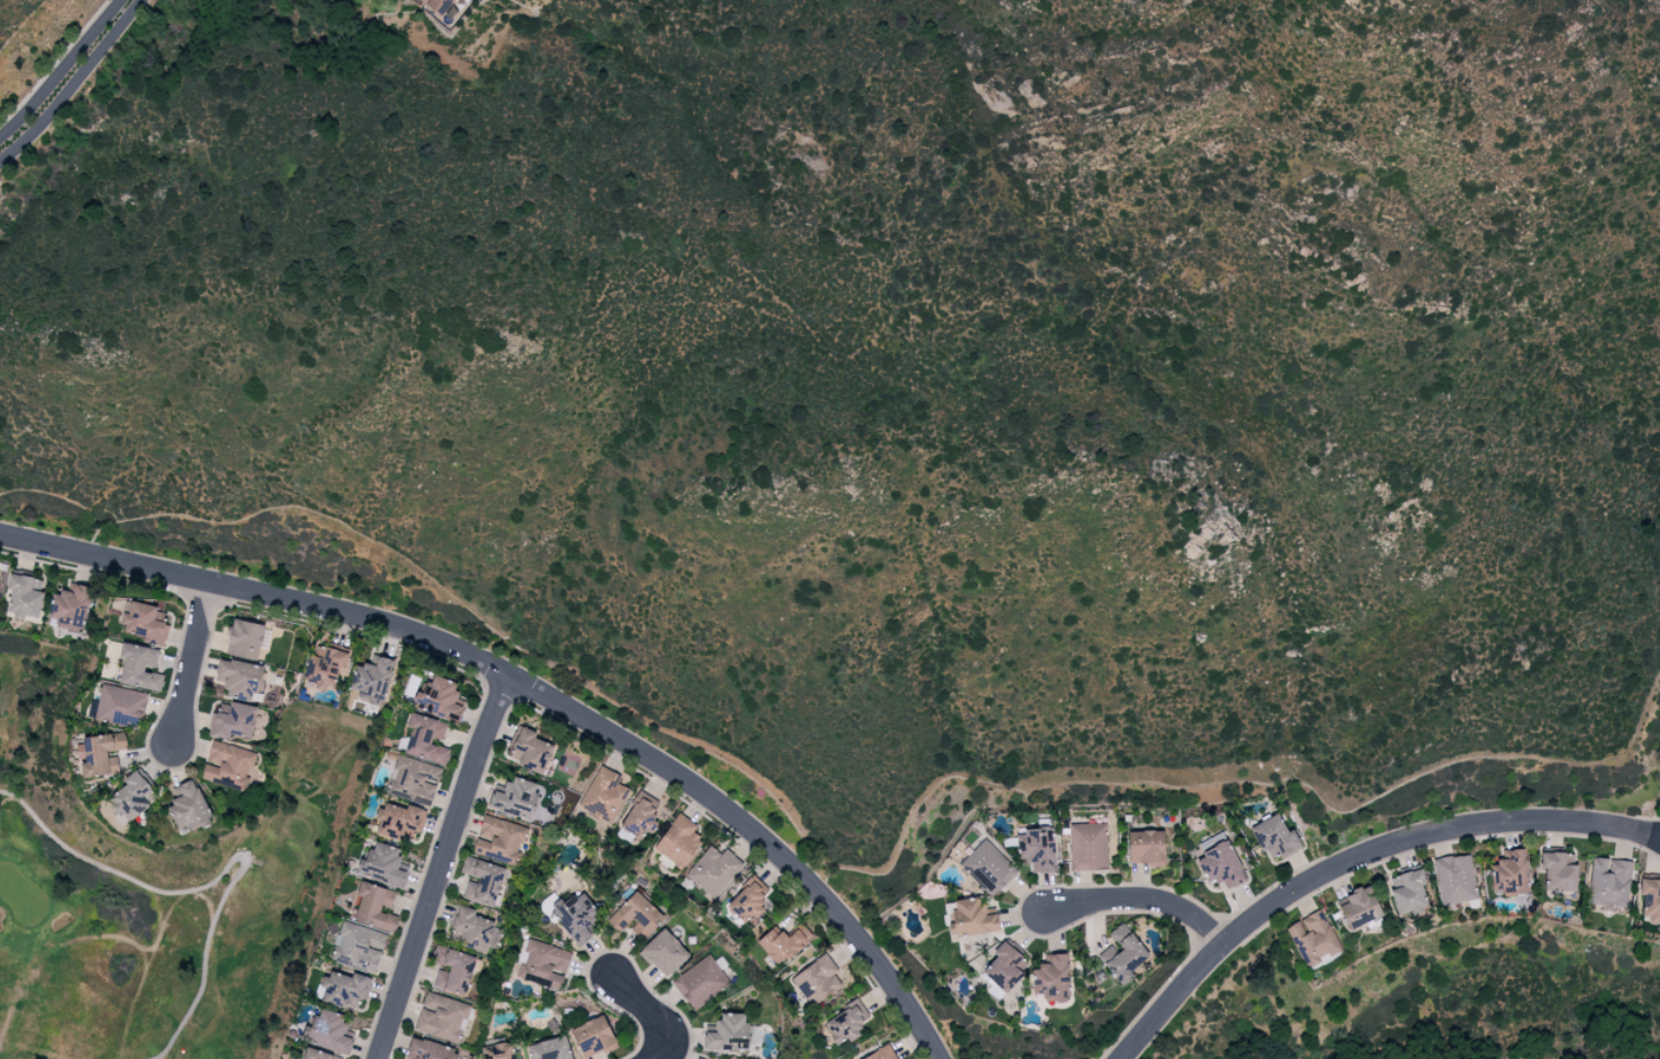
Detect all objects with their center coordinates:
building: (438, 5)
road: (61, 69)
road: (71, 81)
building: (23, 597)
building: (144, 623)
building: (245, 639)
road: (191, 663)
building: (139, 667)
building: (323, 667)
building: (372, 679)
building: (242, 680)
road: (533, 687)
building: (438, 697)
building: (120, 706)
building: (233, 721)
building: (426, 739)
building: (528, 750)
building: (101, 754)
building: (227, 765)
building: (414, 780)
building: (604, 792)
building: (130, 797)
building: (515, 798)
building: (188, 808)
building: (641, 814)
building: (399, 820)
building: (1274, 837)
building: (498, 840)
building: (678, 842)
building: (1087, 846)
building: (1145, 847)
building: (1036, 849)
road: (1356, 859)
building: (1220, 861)
building: (382, 864)
road: (446, 867)
building: (988, 867)
building: (713, 870)
building: (1558, 870)
building: (1510, 872)
building: (482, 881)
building: (1609, 882)
park: (157, 891)
building: (1408, 892)
building: (749, 899)
road: (1139, 899)
building: (1649, 899)
building: (375, 907)
building: (1358, 907)
building: (635, 916)
building: (575, 917)
building: (969, 918)
building: (472, 929)
building: (1312, 940)
building: (782, 943)
building: (358, 946)
building: (663, 953)
building: (1122, 954)
park: (1384, 963)
building: (542, 964)
building: (1005, 967)
building: (452, 970)
building: (1051, 978)
building: (701, 981)
building: (343, 988)
road: (655, 1010)
building: (442, 1016)
building: (846, 1023)
building: (330, 1032)
building: (728, 1033)
building: (592, 1037)
building: (550, 1049)
building: (427, 1050)
building: (498, 1051)
building: (318, 1055)
building: (881, 1055)

